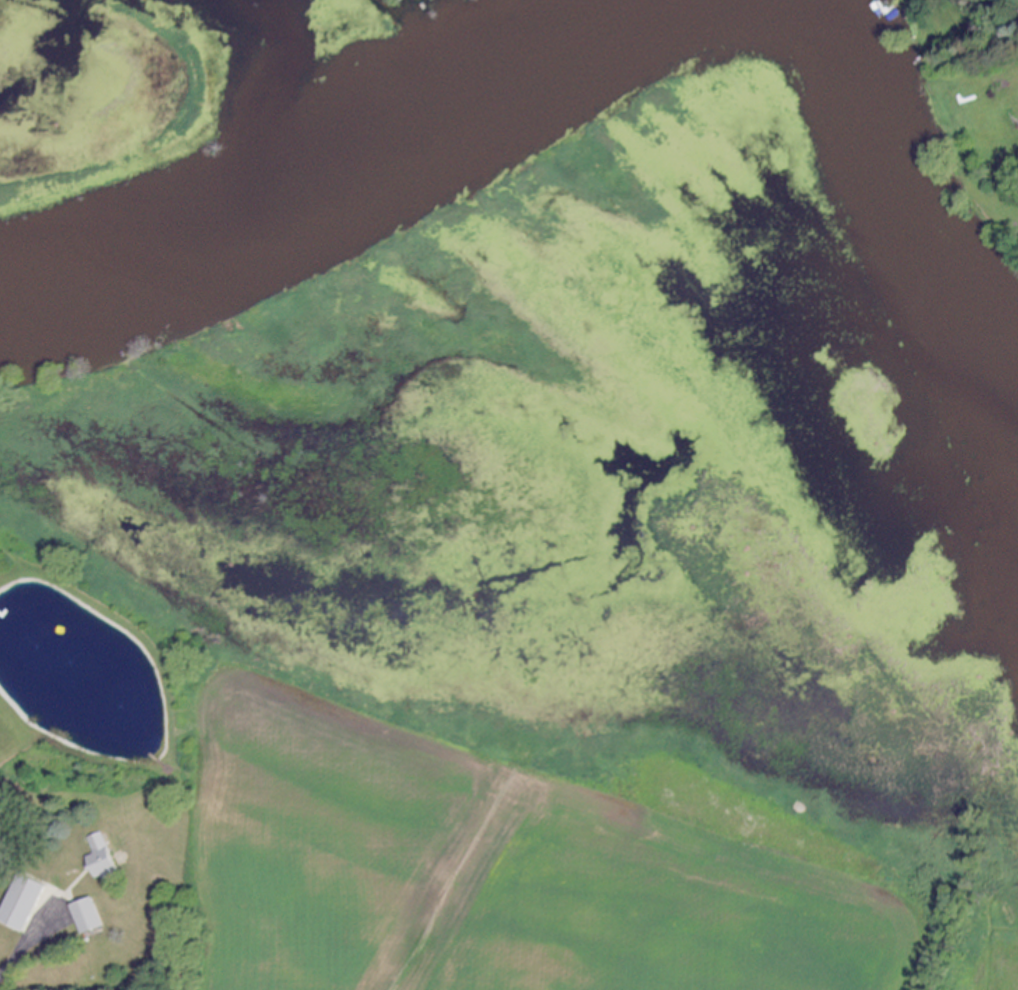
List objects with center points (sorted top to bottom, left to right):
river: (344, 185)
river: (908, 200)
building: (107, 861)
building: (28, 903)
building: (92, 917)
road: (26, 950)

